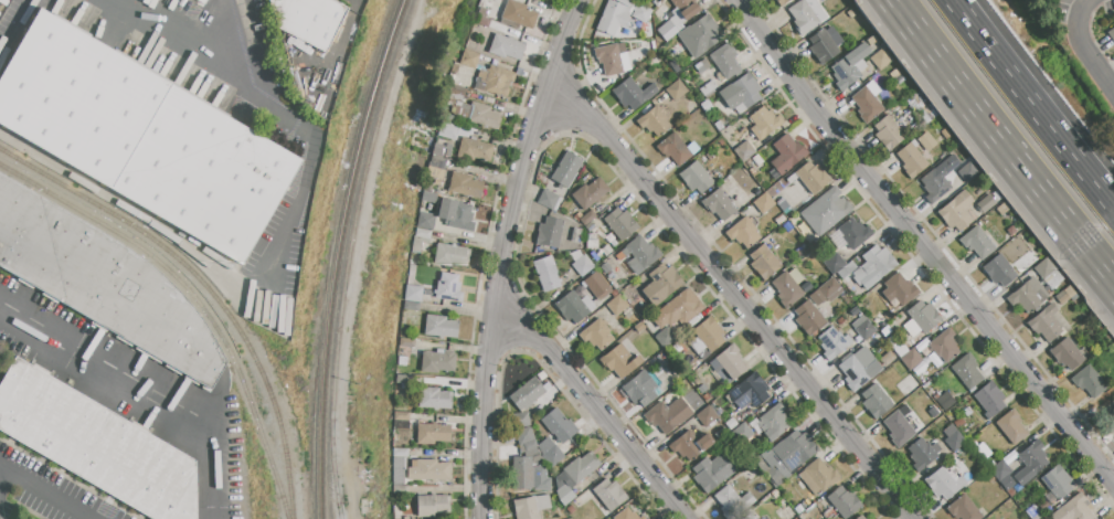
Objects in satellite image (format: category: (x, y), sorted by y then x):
building: (781, 2)
building: (683, 11)
building: (641, 13)
building: (519, 14)
building: (805, 15)
building: (309, 19)
building: (614, 19)
building: (482, 21)
road: (17, 28)
building: (508, 30)
building: (667, 30)
road: (191, 34)
road: (251, 34)
building: (700, 35)
building: (1112, 35)
building: (825, 45)
road: (1080, 45)
building: (507, 46)
building: (469, 59)
building: (882, 59)
building: (609, 60)
building: (725, 61)
building: (849, 66)
building: (496, 80)
building: (900, 80)
building: (708, 87)
building: (676, 89)
building: (458, 91)
building: (632, 93)
building: (741, 93)
building: (713, 98)
road: (1032, 104)
building: (868, 105)
building: (478, 114)
building: (654, 120)
building: (764, 123)
building: (466, 130)
building: (447, 131)
building: (888, 133)
building: (144, 136)
road: (1007, 136)
building: (927, 141)
building: (675, 148)
building: (473, 149)
building: (744, 150)
building: (787, 152)
building: (911, 160)
building: (437, 165)
road: (309, 166)
building: (567, 169)
building: (968, 171)
building: (698, 177)
building: (813, 177)
building: (465, 186)
building: (934, 186)
building: (590, 193)
building: (549, 200)
building: (764, 203)
building: (986, 203)
building: (720, 204)
building: (783, 205)
road: (129, 210)
building: (826, 210)
building: (957, 211)
building: (457, 214)
building: (587, 216)
building: (425, 221)
building: (620, 223)
building: (590, 226)
building: (549, 232)
building: (743, 232)
building: (422, 233)
building: (855, 233)
building: (976, 242)
road: (922, 243)
building: (417, 244)
building: (641, 252)
road: (500, 254)
railway: (339, 255)
railway: (350, 255)
building: (450, 255)
building: (763, 262)
building: (581, 263)
building: (835, 263)
building: (873, 265)
building: (605, 267)
building: (999, 271)
building: (547, 273)
building: (1048, 273)
building: (411, 275)
building: (103, 282)
building: (661, 284)
building: (597, 286)
building: (787, 286)
railway: (206, 288)
building: (449, 288)
building: (830, 288)
building: (899, 289)
building: (412, 294)
building: (1028, 295)
building: (1067, 295)
road: (733, 297)
building: (817, 297)
railway: (194, 298)
building: (411, 306)
building: (574, 306)
building: (618, 306)
building: (678, 309)
building: (924, 317)
building: (807, 318)
building: (1048, 322)
building: (439, 327)
building: (639, 327)
building: (863, 327)
building: (885, 331)
building: (709, 333)
building: (596, 335)
building: (666, 337)
building: (874, 338)
building: (406, 341)
building: (834, 342)
building: (944, 345)
road: (66, 350)
building: (402, 350)
building: (900, 350)
building: (1067, 353)
building: (887, 359)
building: (911, 359)
building: (402, 360)
building: (437, 361)
building: (620, 361)
building: (731, 361)
building: (920, 368)
building: (967, 370)
building: (858, 372)
building: (403, 379)
building: (1089, 381)
building: (640, 389)
building: (750, 391)
building: (527, 394)
building: (433, 398)
building: (990, 398)
building: (876, 401)
road: (593, 406)
building: (668, 414)
building: (401, 415)
building: (707, 416)
building: (773, 422)
building: (558, 425)
building: (899, 426)
building: (1011, 426)
road: (211, 431)
building: (742, 432)
building: (432, 434)
building: (524, 435)
building: (953, 438)
building: (96, 444)
building: (690, 445)
building: (795, 449)
building: (400, 452)
building: (924, 455)
building: (552, 456)
building: (1031, 463)
building: (397, 469)
building: (428, 470)
building: (1000, 470)
building: (712, 472)
building: (521, 474)
building: (574, 476)
building: (775, 476)
building: (818, 477)
road: (3, 478)
building: (946, 481)
building: (1057, 483)
building: (401, 490)
road: (43, 492)
building: (607, 497)
building: (732, 501)
building: (845, 501)
building: (432, 505)
building: (967, 506)
building: (530, 507)
building: (1074, 509)
building: (1033, 512)
building: (627, 515)
building: (749, 516)
building: (405, 518)
building: (762, 518)
building: (860, 518)

